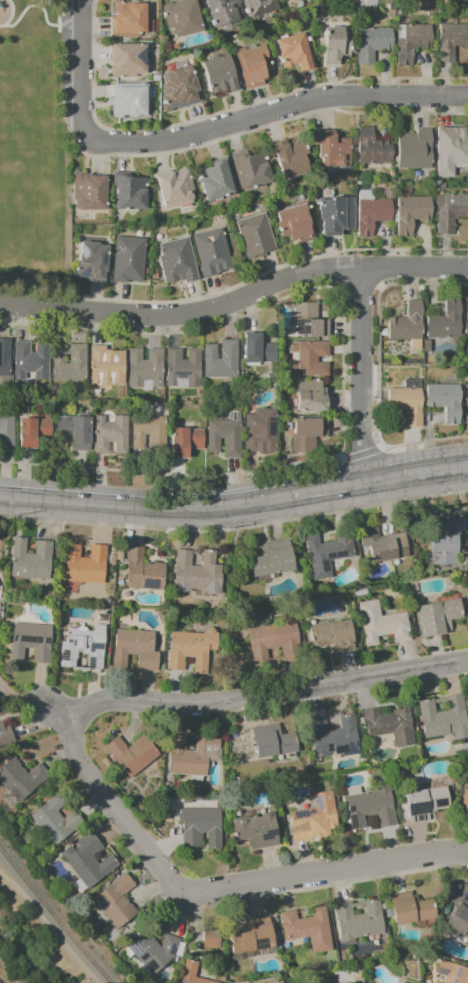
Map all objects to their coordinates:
building: (285, 0)
building: (292, 1)
building: (259, 7)
road: (42, 11)
building: (225, 12)
road: (11, 15)
building: (185, 19)
building: (129, 20)
road: (82, 32)
building: (452, 41)
building: (412, 42)
building: (374, 45)
building: (337, 46)
building: (297, 53)
building: (129, 61)
building: (259, 65)
parking lot: (64, 71)
building: (222, 75)
building: (183, 90)
building: (131, 101)
road: (238, 122)
road: (258, 128)
building: (374, 149)
building: (334, 150)
building: (452, 150)
building: (416, 151)
park: (33, 154)
building: (292, 159)
building: (253, 170)
building: (218, 180)
building: (443, 187)
building: (177, 189)
building: (91, 193)
building: (131, 193)
building: (453, 213)
building: (375, 214)
building: (414, 214)
building: (337, 216)
building: (299, 223)
building: (259, 236)
building: (214, 253)
building: (130, 261)
building: (94, 263)
building: (179, 263)
road: (414, 267)
road: (235, 285)
road: (183, 313)
building: (466, 318)
building: (447, 322)
building: (314, 323)
building: (409, 327)
building: (260, 351)
building: (5, 359)
building: (310, 359)
building: (34, 361)
building: (223, 361)
building: (72, 365)
building: (109, 366)
building: (148, 369)
building: (185, 369)
road: (360, 373)
building: (466, 384)
building: (314, 398)
building: (447, 402)
building: (409, 403)
building: (8, 428)
building: (77, 432)
building: (36, 433)
building: (264, 433)
building: (153, 434)
building: (309, 435)
building: (113, 436)
building: (226, 438)
building: (188, 443)
road: (414, 472)
road: (324, 488)
road: (143, 506)
building: (446, 545)
building: (385, 546)
building: (331, 555)
building: (121, 556)
building: (114, 560)
building: (33, 561)
building: (275, 561)
building: (87, 565)
building: (145, 573)
building: (198, 573)
building: (437, 618)
building: (381, 624)
building: (331, 637)
building: (30, 640)
building: (261, 642)
building: (83, 649)
building: (132, 649)
building: (191, 649)
road: (256, 699)
building: (442, 718)
building: (388, 725)
building: (3, 734)
building: (332, 736)
building: (271, 741)
building: (130, 754)
building: (191, 755)
building: (19, 778)
building: (466, 798)
building: (423, 803)
building: (369, 807)
building: (313, 818)
building: (53, 822)
building: (198, 826)
building: (255, 830)
building: (86, 860)
road: (334, 883)
road: (207, 894)
building: (115, 901)
building: (409, 908)
railway: (54, 914)
building: (357, 919)
building: (458, 919)
building: (306, 928)
building: (251, 937)
building: (209, 938)
building: (151, 950)
building: (452, 973)
building: (191, 974)
building: (349, 982)

